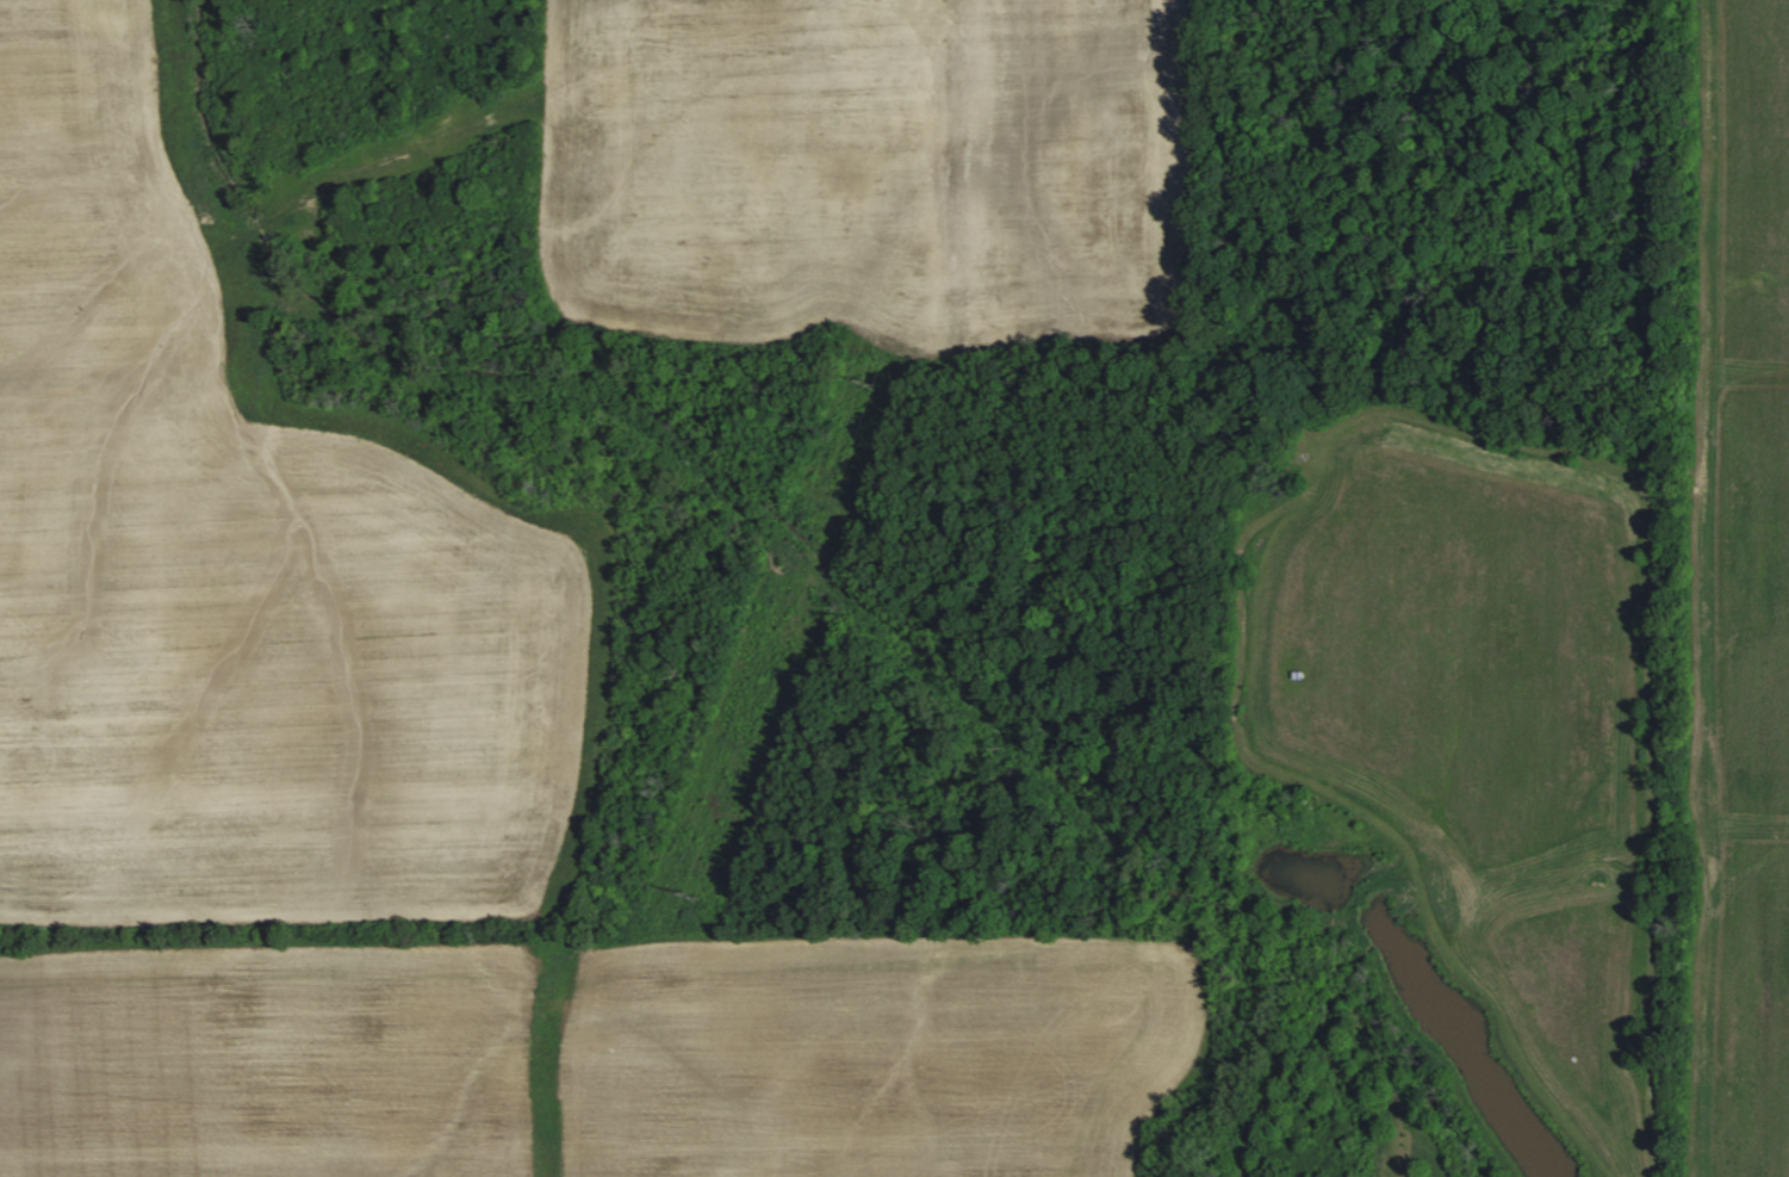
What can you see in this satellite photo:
power tower: (870, 388)
power tower: (687, 909)

